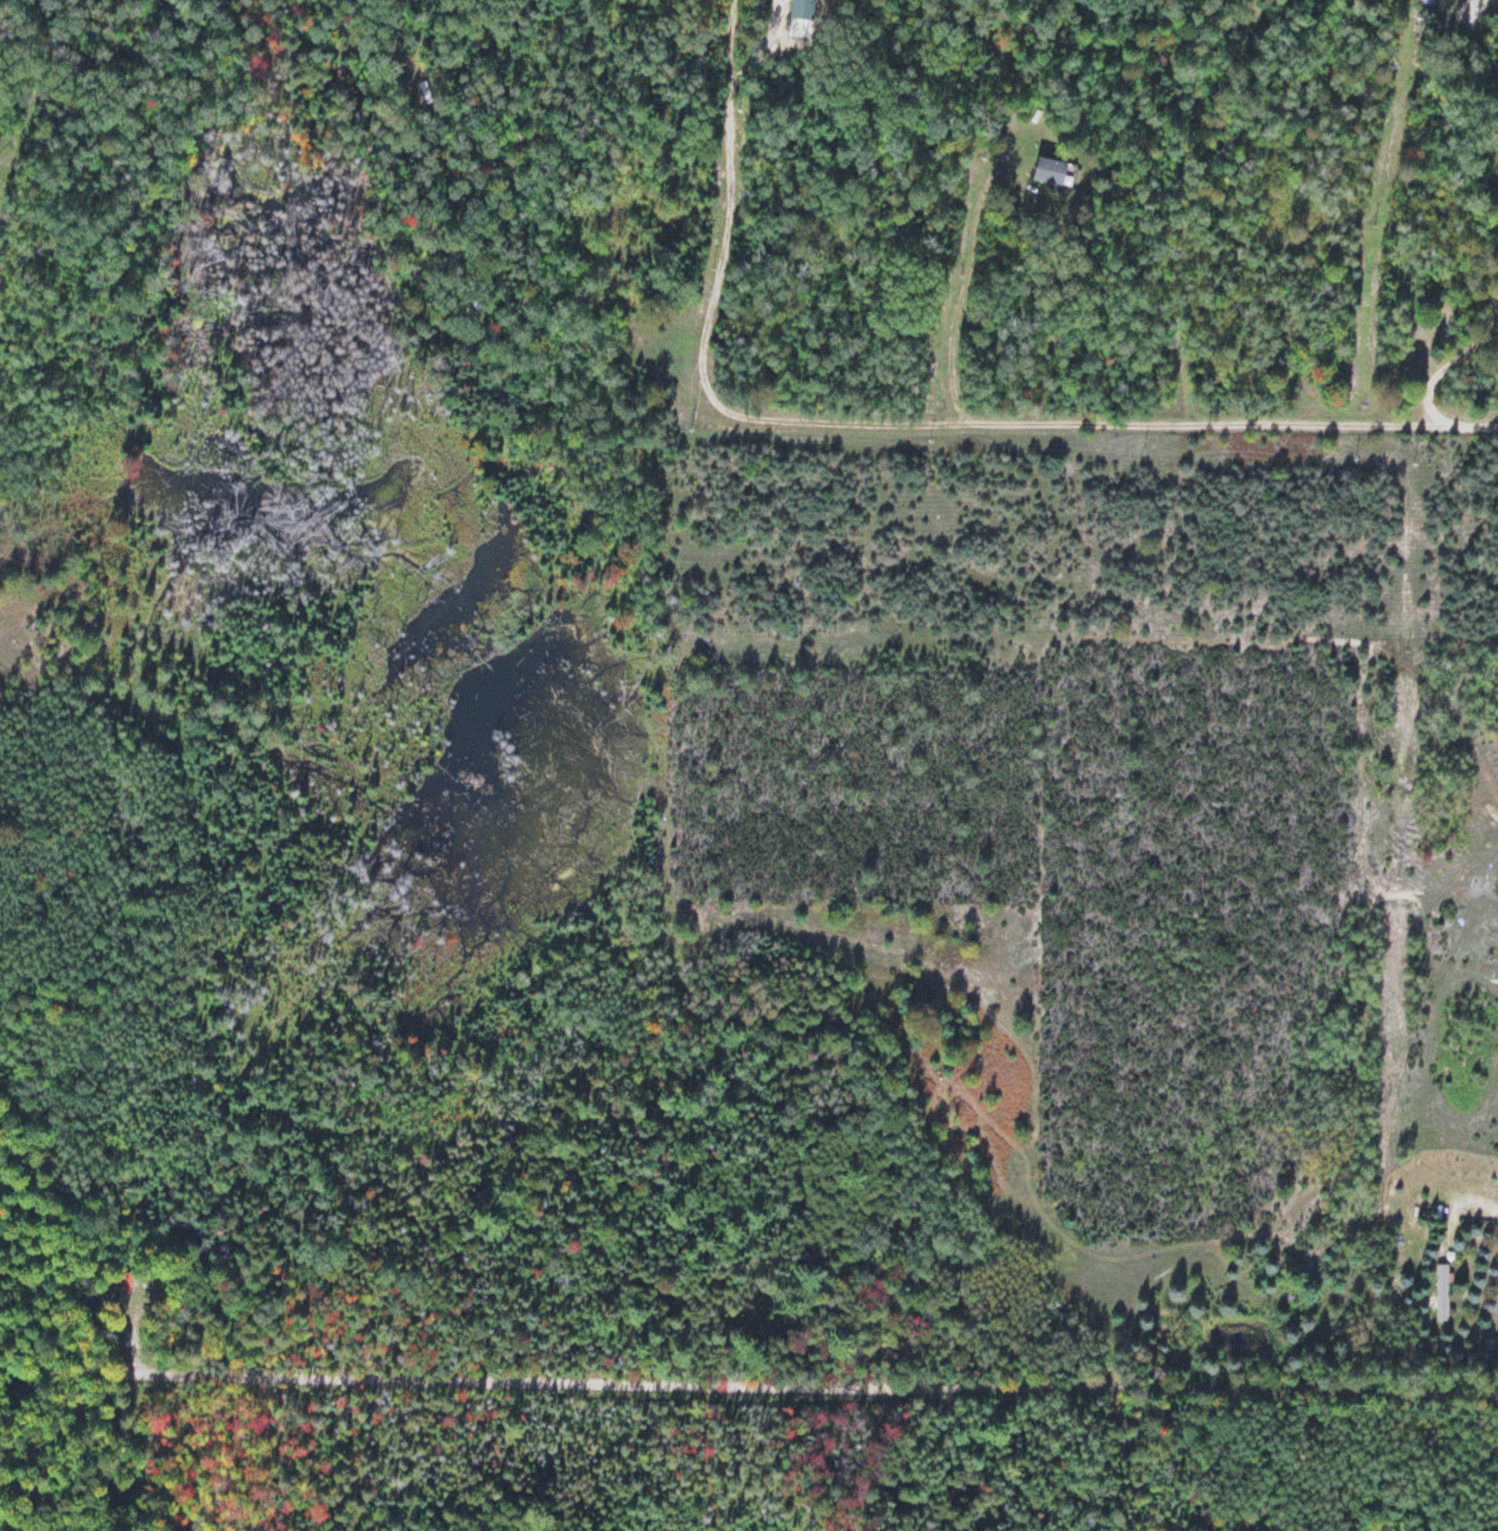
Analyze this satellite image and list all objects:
building: (1053, 171)
road: (1432, 378)
road: (869, 421)
road: (21, 644)
road: (1456, 1203)
building: (1442, 1292)
road: (749, 1381)

